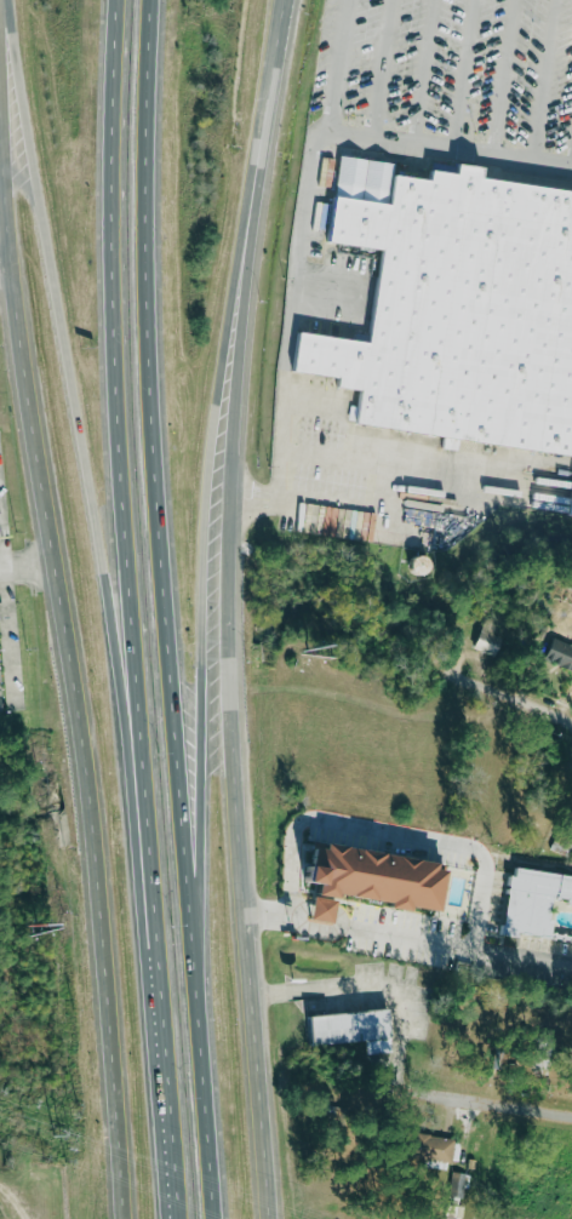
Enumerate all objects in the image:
road: (350, 70)
road: (397, 74)
road: (440, 78)
road: (477, 80)
road: (521, 82)
road: (5, 84)
road: (559, 85)
road: (454, 158)
road: (5, 168)
road: (12, 280)
building: (467, 334)
road: (119, 349)
road: (71, 350)
road: (29, 573)
road: (242, 608)
road: (168, 609)
building: (492, 641)
building: (562, 653)
road: (211, 662)
road: (79, 692)
road: (510, 702)
road: (388, 830)
building: (378, 881)
building: (537, 902)
road: (164, 958)
road: (531, 969)
building: (358, 1030)
road: (494, 1106)
power tower: (69, 1140)
building: (435, 1148)
building: (461, 1184)
building: (457, 1209)

